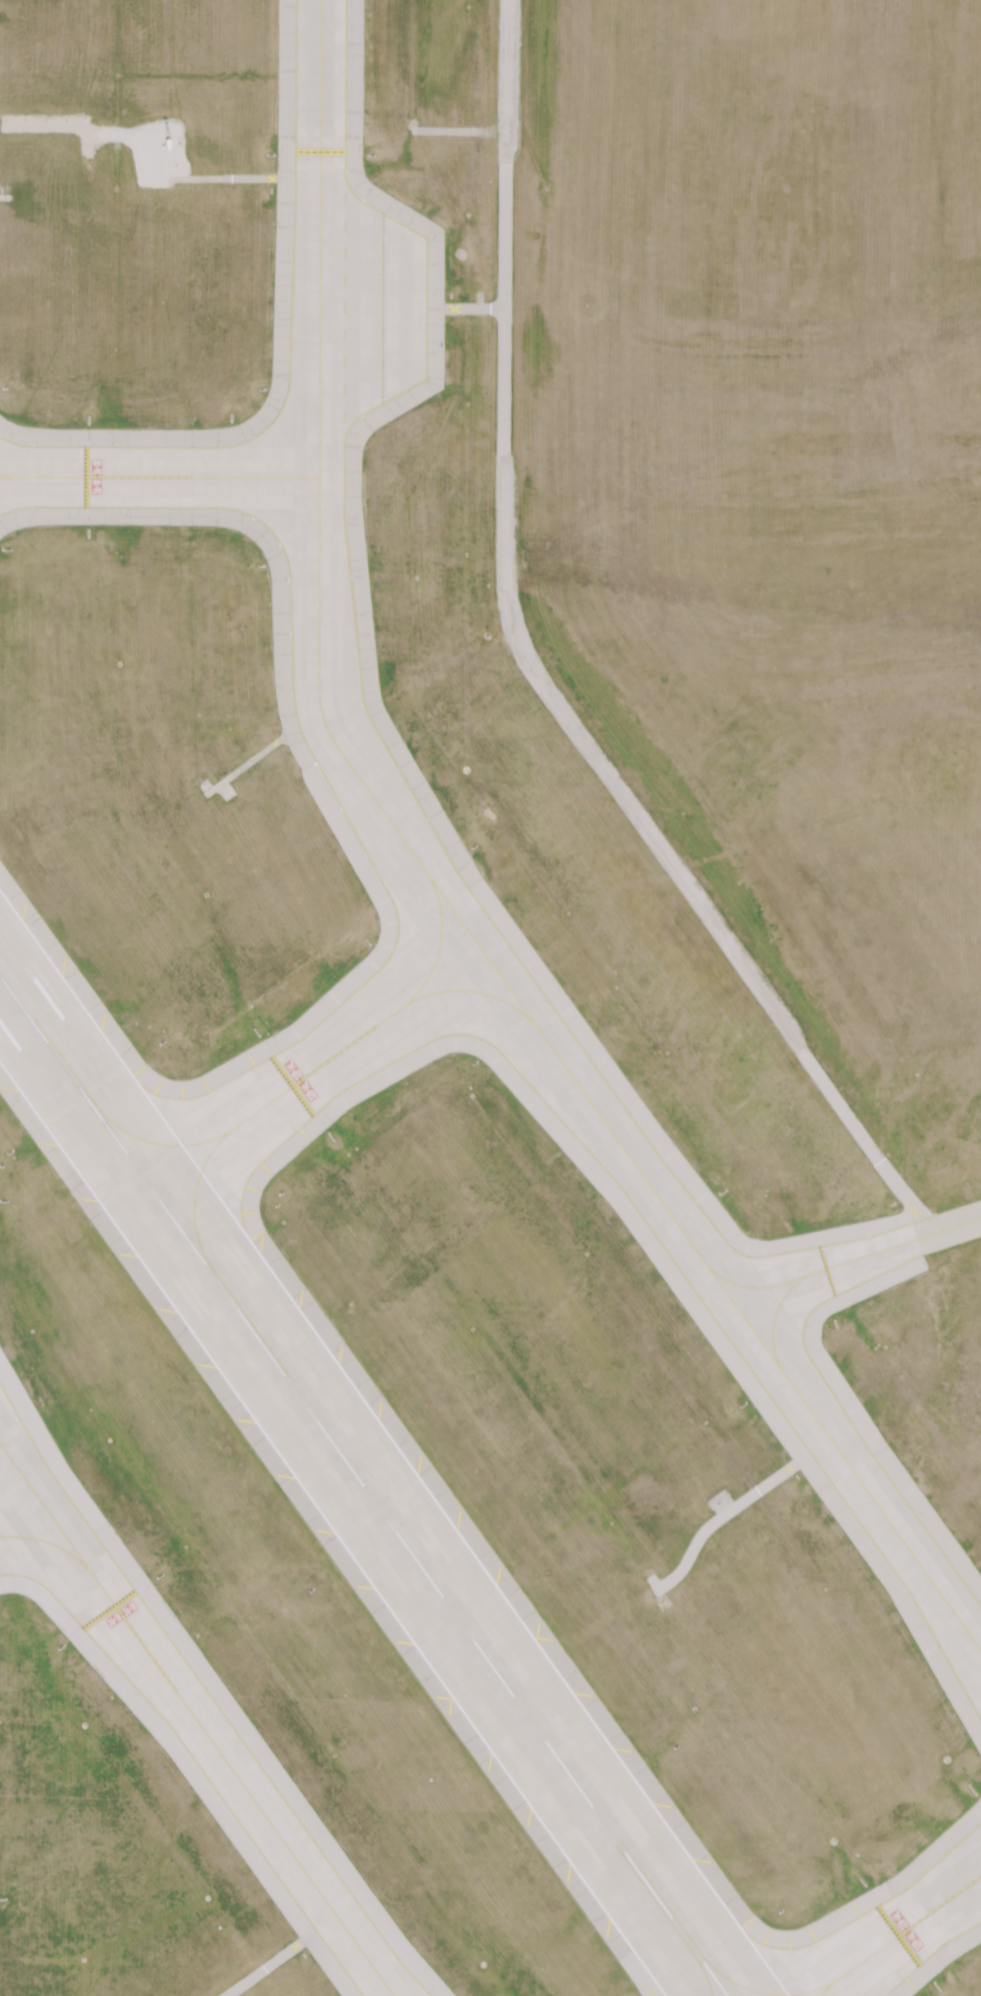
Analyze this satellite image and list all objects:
road: (154, 168)
road: (415, 306)
airport apron: (366, 308)
airport taxiway: (10, 477)
airport taxiway: (158, 477)
road: (538, 676)
airport taxiway: (441, 893)
airport taxiway: (461, 990)
airport: (490, 998)
airport taxiway: (315, 1068)
airport taxiway: (163, 1143)
road: (955, 1224)
airport taxiway: (835, 1264)
airport taxiway: (741, 1286)
airport runway: (363, 1486)
airport taxiway: (47, 1541)
airport taxiway: (196, 1720)
airport taxiway: (898, 1936)
airport taxiway: (705, 1972)
airport taxiway: (832, 1987)
airport taxiway: (762, 1991)

